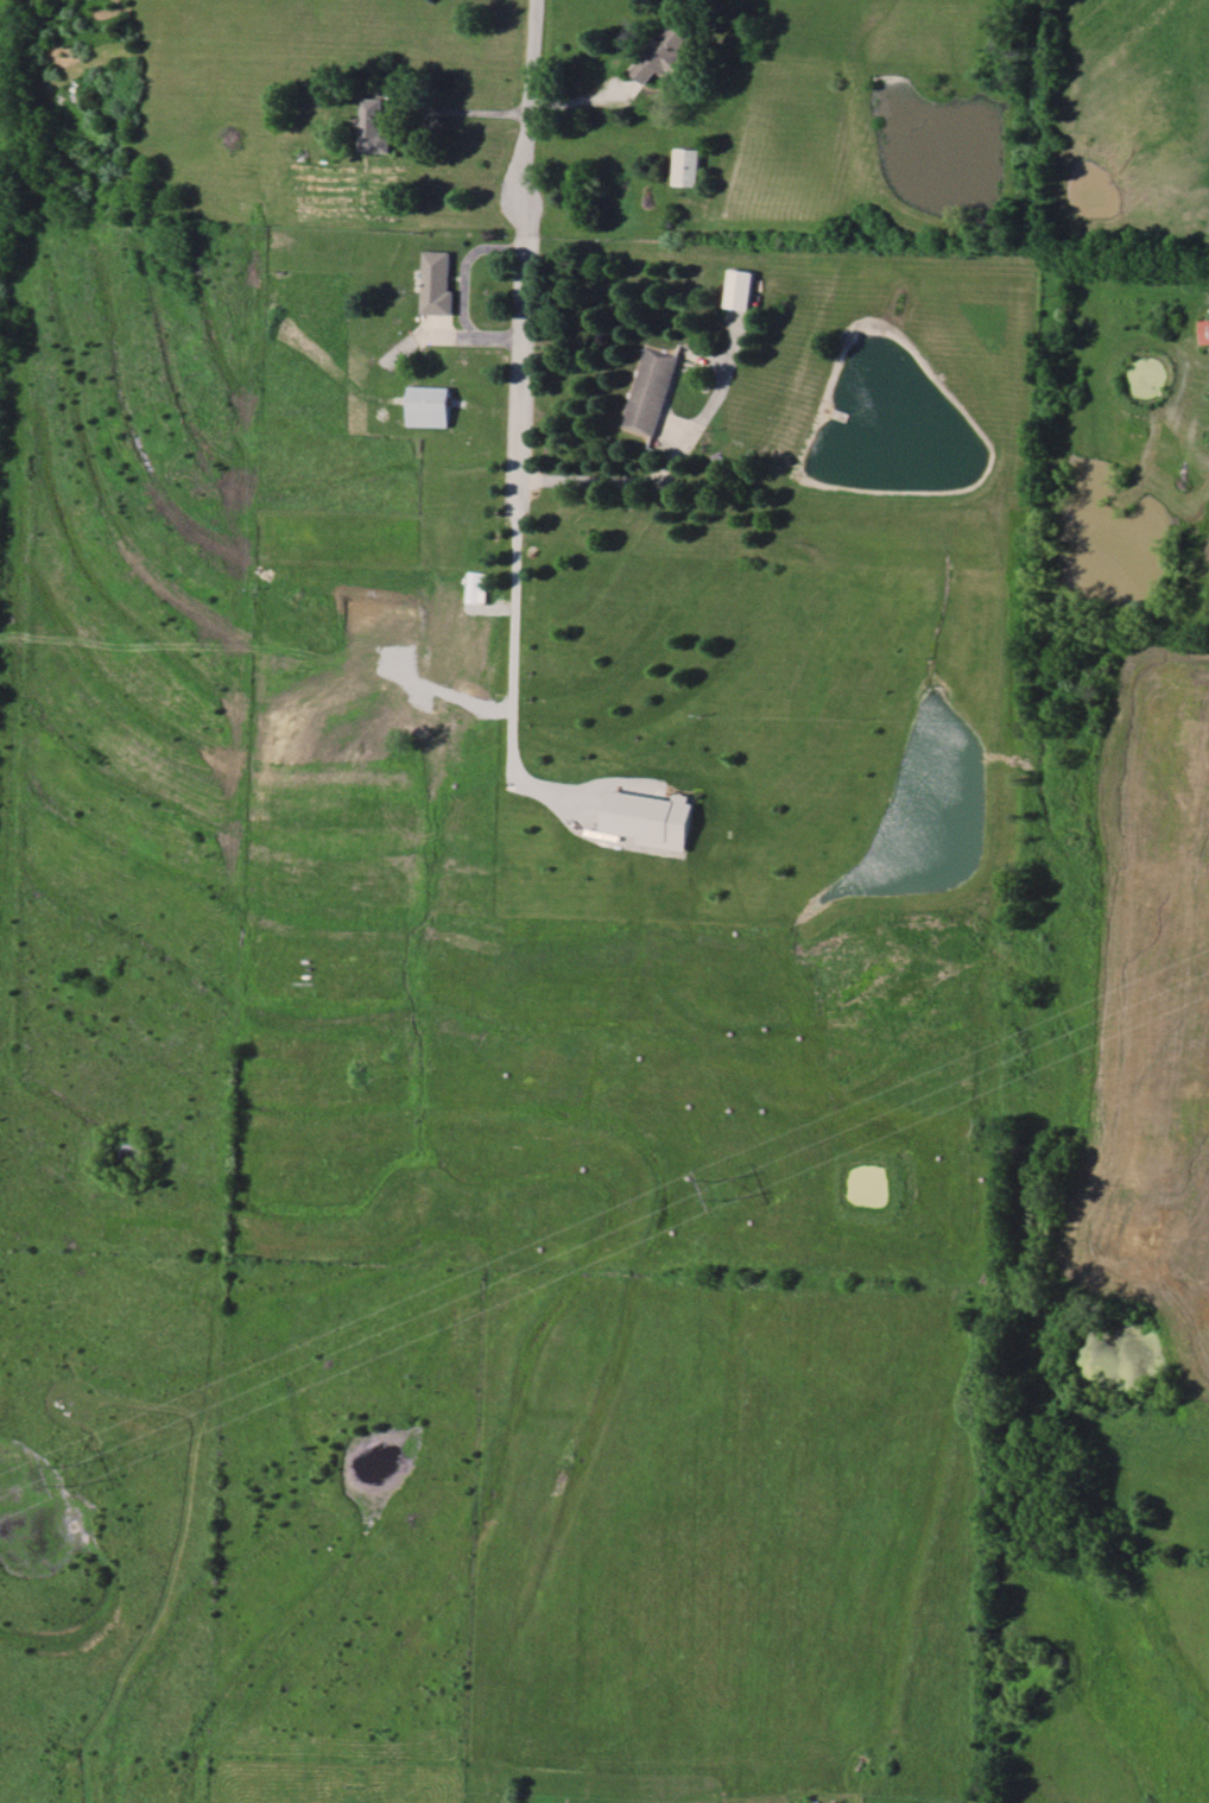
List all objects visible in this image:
building: (663, 53)
road: (464, 112)
building: (374, 126)
building: (685, 166)
road: (525, 255)
building: (438, 283)
building: (739, 289)
road: (468, 292)
building: (1204, 330)
building: (648, 391)
building: (430, 406)
road: (669, 467)
building: (476, 551)
road: (513, 671)
building: (650, 818)
power tower: (721, 1189)
power tower: (69, 1475)

